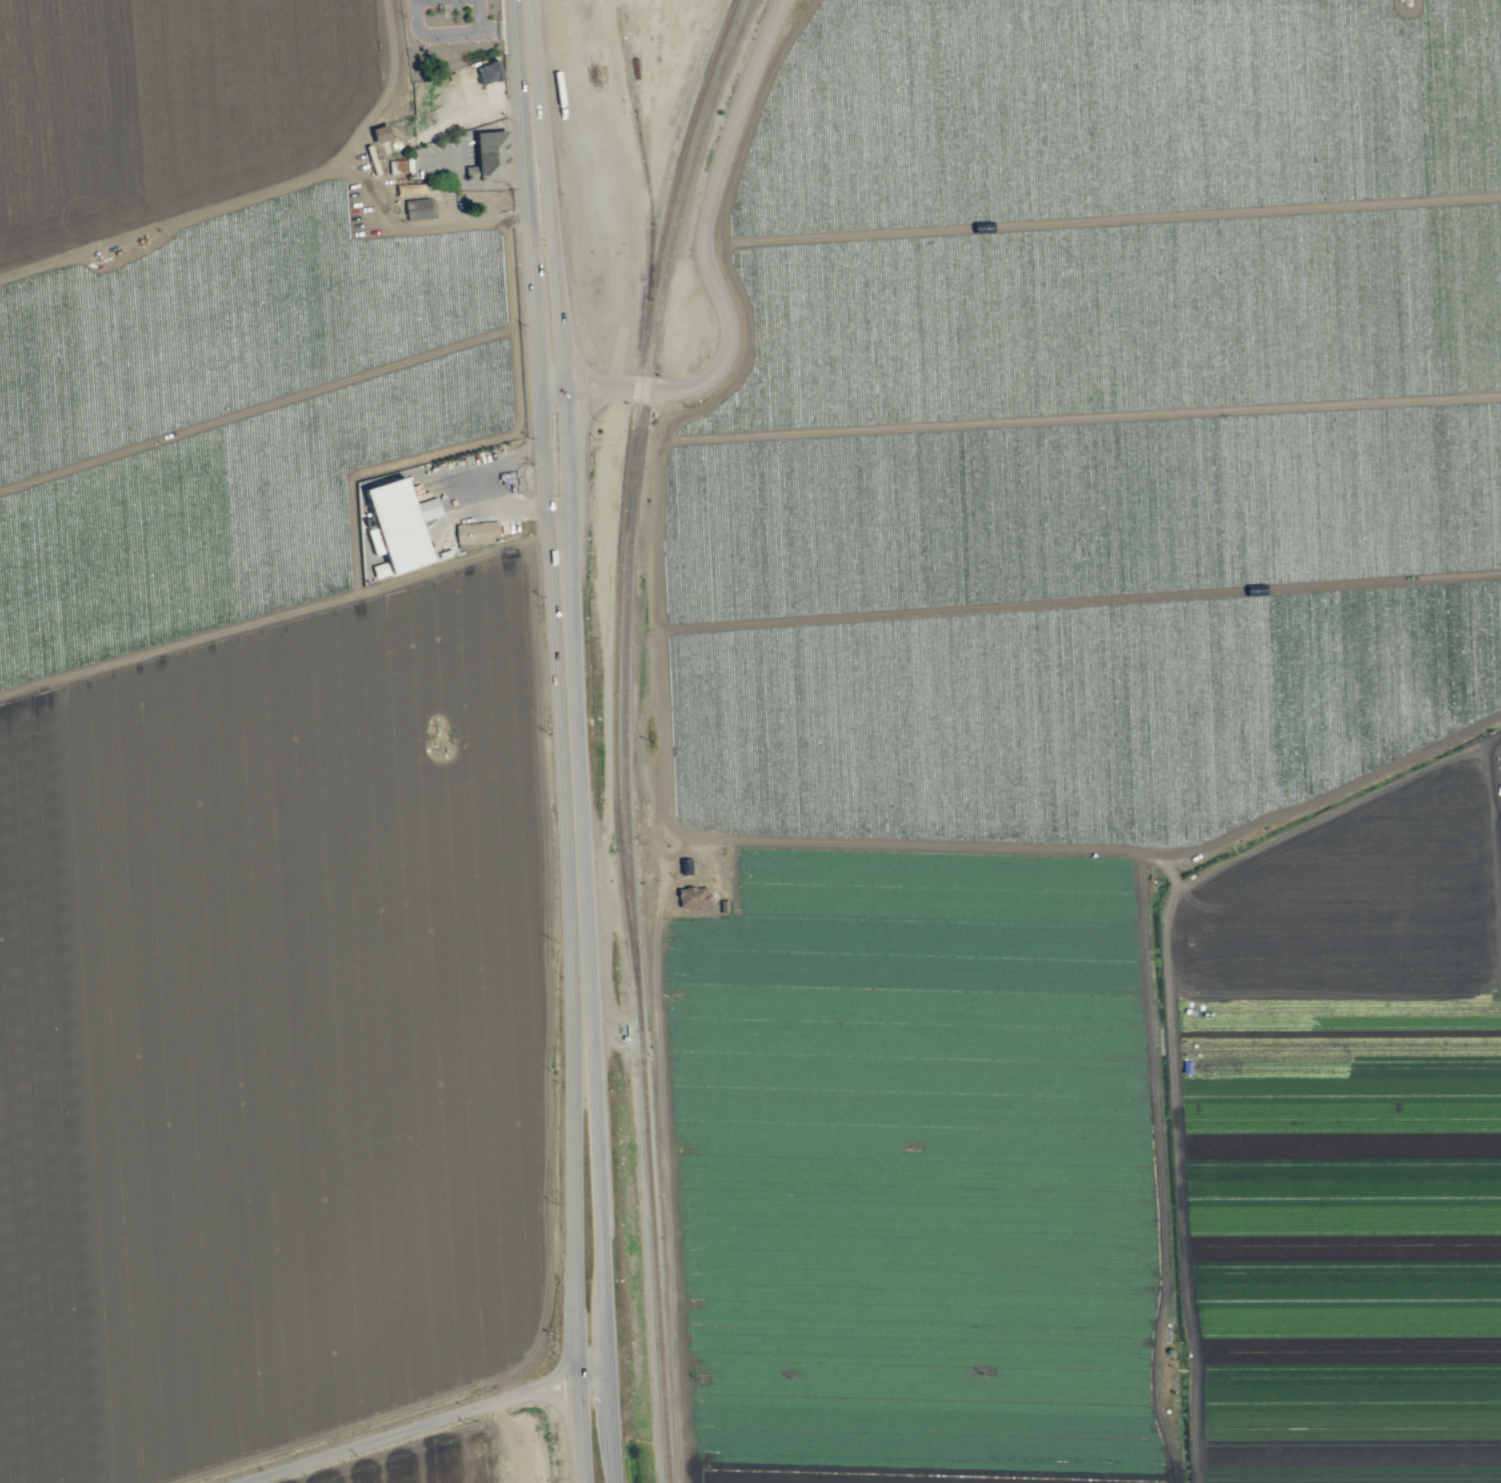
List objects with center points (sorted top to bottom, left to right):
railway: (616, 9)
road: (477, 16)
road: (453, 34)
road: (524, 38)
building: (488, 72)
building: (379, 133)
railway: (638, 141)
building: (488, 157)
building: (396, 166)
railway: (664, 174)
building: (418, 208)
road: (721, 224)
road: (706, 264)
road: (545, 341)
railway: (612, 352)
road: (573, 365)
road: (546, 393)
road: (586, 415)
railway: (632, 507)
railway: (624, 508)
building: (397, 525)
building: (476, 532)
road: (658, 632)
crop: (1094, 756)
road: (578, 777)
road: (561, 778)
crop: (254, 784)
road: (1062, 832)
building: (692, 896)
railway: (653, 1256)
road: (594, 1310)
road: (567, 1361)
road: (565, 1404)
road: (598, 1423)
road: (412, 1429)

